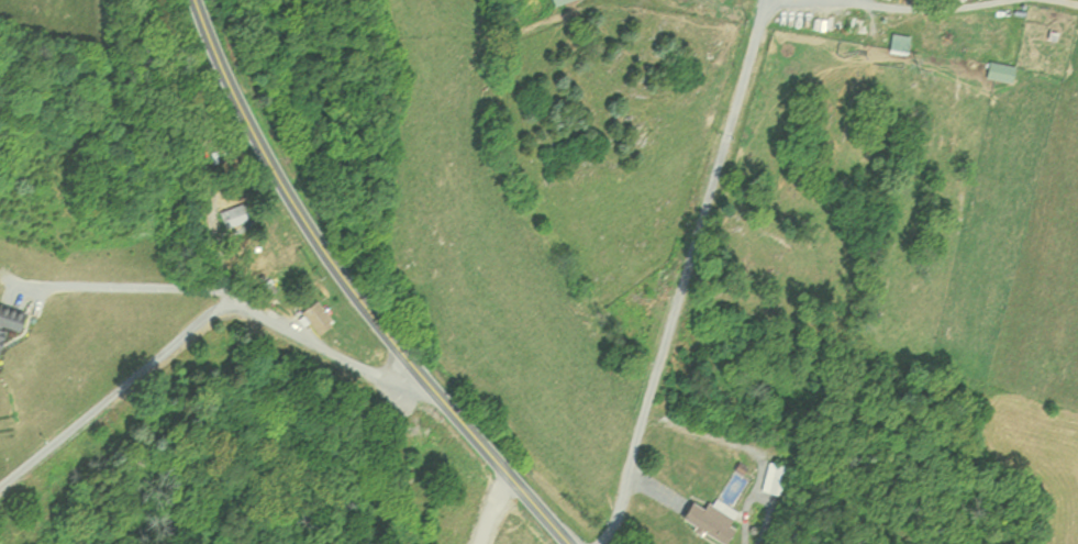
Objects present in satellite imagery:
road: (1073, 0)
building: (555, 2)
road: (929, 7)
building: (893, 44)
building: (996, 73)
road: (288, 201)
building: (229, 218)
road: (684, 274)
road: (126, 285)
building: (310, 317)
building: (7, 321)
road: (196, 325)
road: (491, 464)
building: (769, 479)
road: (654, 484)
road: (477, 510)
building: (705, 520)
road: (604, 539)

